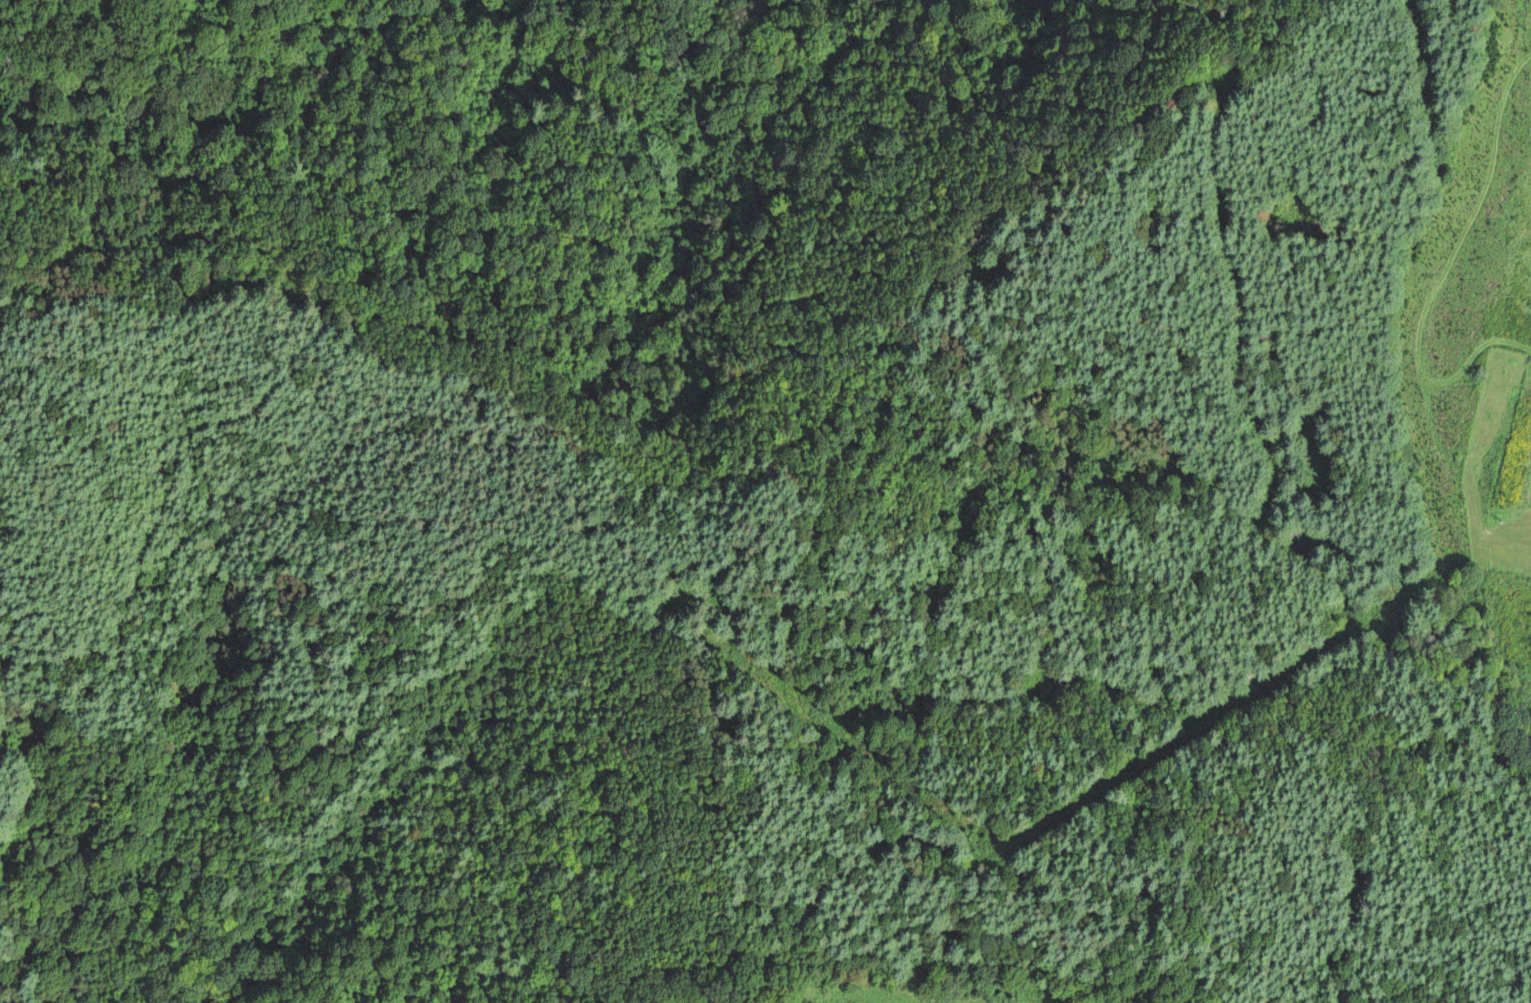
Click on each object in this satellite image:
park: (1319, 477)

